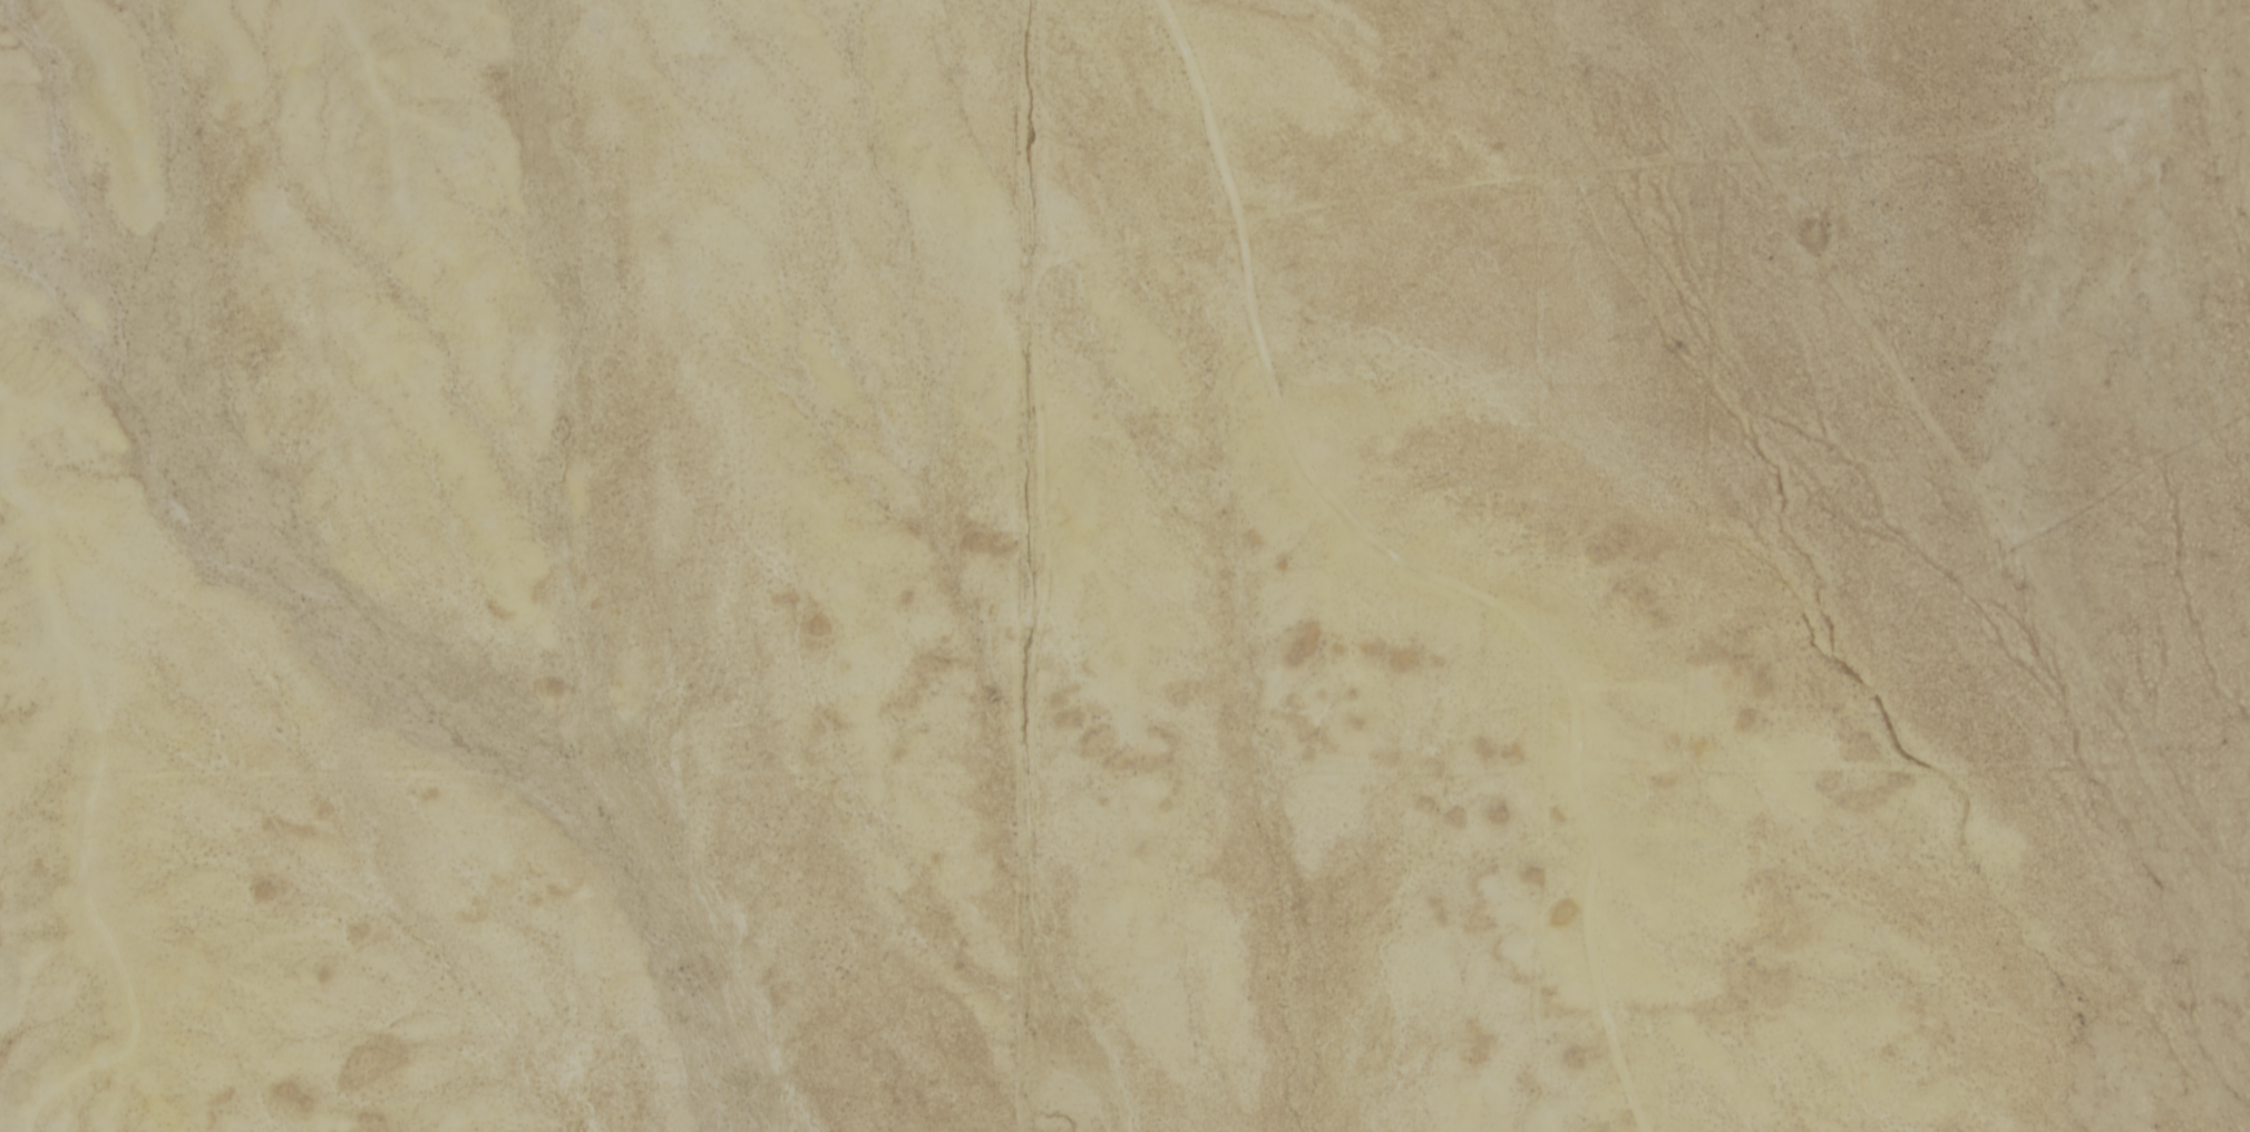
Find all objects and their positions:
road: (1932, 501)
road: (1426, 543)
road: (1034, 566)

